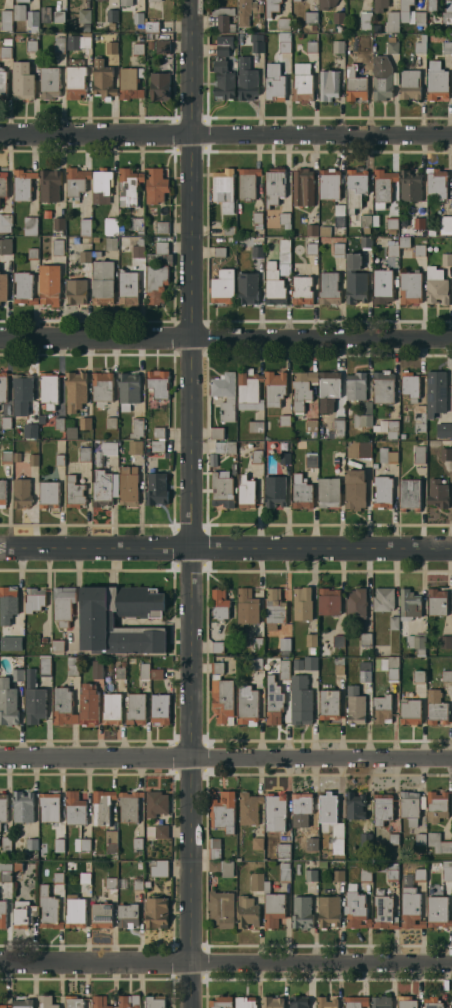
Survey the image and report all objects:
building: (153, 0)
building: (296, 0)
building: (125, 2)
building: (326, 3)
building: (379, 4)
building: (271, 6)
building: (432, 6)
building: (256, 7)
building: (19, 10)
building: (406, 11)
building: (243, 12)
building: (447, 12)
building: (46, 14)
building: (84, 15)
building: (111, 15)
building: (58, 16)
building: (138, 17)
building: (222, 17)
building: (311, 17)
building: (337, 17)
building: (419, 18)
building: (5, 19)
building: (32, 19)
building: (365, 21)
building: (391, 21)
building: (283, 23)
building: (151, 26)
building: (85, 27)
building: (294, 27)
building: (85, 40)
building: (6, 41)
building: (257, 42)
building: (284, 42)
building: (31, 45)
building: (58, 45)
building: (420, 45)
building: (162, 46)
building: (311, 46)
building: (337, 46)
building: (111, 47)
building: (365, 47)
building: (391, 47)
building: (447, 47)
building: (137, 49)
building: (5, 51)
building: (268, 55)
building: (224, 68)
building: (102, 79)
building: (247, 79)
building: (381, 80)
building: (22, 81)
building: (75, 81)
building: (437, 81)
building: (49, 82)
building: (129, 82)
building: (302, 83)
building: (354, 83)
building: (2, 84)
building: (276, 84)
building: (409, 84)
building: (328, 85)
building: (159, 86)
road: (225, 137)
building: (76, 181)
building: (437, 182)
building: (4, 183)
building: (249, 183)
building: (331, 183)
building: (24, 184)
building: (383, 184)
building: (50, 185)
building: (102, 185)
building: (130, 185)
building: (275, 185)
building: (411, 185)
building: (156, 186)
building: (305, 187)
building: (354, 188)
building: (225, 189)
building: (47, 214)
building: (340, 215)
building: (286, 219)
building: (5, 220)
building: (259, 220)
building: (365, 220)
building: (391, 222)
building: (58, 223)
building: (419, 223)
building: (446, 224)
building: (31, 226)
building: (111, 226)
building: (138, 226)
building: (86, 227)
building: (163, 228)
building: (229, 230)
building: (312, 230)
building: (325, 230)
building: (431, 232)
building: (366, 241)
building: (405, 241)
building: (111, 242)
building: (124, 244)
building: (312, 245)
building: (6, 246)
building: (58, 246)
building: (139, 248)
building: (393, 249)
building: (339, 250)
building: (419, 250)
building: (258, 251)
building: (221, 252)
building: (33, 254)
building: (96, 254)
building: (160, 254)
building: (85, 256)
building: (447, 259)
building: (279, 275)
building: (355, 279)
building: (103, 282)
building: (157, 283)
building: (50, 284)
building: (3, 286)
building: (383, 286)
building: (436, 286)
building: (410, 287)
building: (128, 288)
building: (249, 288)
building: (330, 288)
building: (24, 289)
building: (223, 290)
building: (76, 291)
building: (304, 291)
road: (225, 343)
building: (159, 383)
building: (331, 384)
building: (410, 385)
building: (276, 386)
building: (356, 386)
building: (3, 387)
building: (383, 387)
building: (103, 388)
building: (303, 389)
building: (49, 390)
building: (76, 390)
building: (129, 390)
building: (250, 390)
building: (436, 392)
building: (23, 393)
building: (226, 395)
building: (348, 411)
building: (364, 416)
building: (42, 419)
building: (285, 420)
building: (6, 422)
building: (419, 422)
building: (60, 423)
building: (86, 423)
building: (111, 423)
building: (256, 426)
building: (335, 426)
building: (312, 427)
building: (137, 428)
building: (387, 428)
building: (71, 430)
building: (444, 430)
building: (30, 431)
building: (159, 432)
building: (218, 433)
building: (367, 435)
building: (402, 435)
building: (302, 444)
building: (155, 446)
building: (136, 447)
building: (226, 447)
building: (110, 448)
building: (359, 449)
building: (85, 454)
building: (419, 454)
building: (446, 454)
building: (387, 455)
building: (257, 456)
building: (7, 457)
building: (18, 457)
building: (99, 458)
building: (285, 458)
building: (338, 458)
building: (34, 459)
building: (213, 459)
building: (312, 459)
building: (60, 460)
building: (375, 465)
building: (129, 486)
building: (222, 488)
building: (102, 489)
building: (156, 489)
building: (355, 489)
building: (276, 490)
building: (74, 492)
building: (247, 492)
building: (303, 492)
building: (330, 492)
building: (383, 492)
building: (3, 493)
building: (22, 493)
building: (438, 493)
building: (408, 494)
building: (49, 495)
road: (191, 504)
road: (226, 548)
building: (383, 598)
building: (34, 599)
building: (330, 601)
building: (437, 601)
building: (8, 603)
building: (303, 603)
building: (356, 603)
building: (409, 603)
building: (64, 604)
building: (221, 604)
building: (248, 606)
building: (275, 609)
building: (98, 622)
building: (393, 622)
building: (44, 639)
building: (365, 639)
building: (312, 640)
building: (339, 640)
building: (445, 640)
building: (11, 642)
building: (416, 642)
building: (58, 645)
building: (259, 645)
building: (286, 645)
building: (219, 646)
building: (324, 649)
building: (313, 650)
building: (311, 662)
building: (257, 664)
building: (299, 664)
building: (45, 665)
building: (73, 665)
building: (340, 665)
building: (219, 667)
building: (393, 667)
building: (97, 668)
building: (285, 669)
building: (120, 670)
building: (145, 670)
building: (364, 671)
building: (18, 672)
building: (157, 673)
building: (419, 676)
building: (446, 676)
building: (35, 699)
building: (224, 699)
building: (302, 700)
building: (275, 701)
building: (8, 703)
building: (330, 704)
building: (89, 705)
building: (248, 705)
building: (355, 705)
building: (64, 706)
building: (160, 707)
building: (436, 707)
building: (113, 708)
building: (137, 708)
building: (382, 709)
building: (410, 711)
road: (226, 757)
building: (156, 803)
building: (129, 805)
building: (355, 805)
building: (23, 806)
building: (50, 806)
building: (102, 806)
building: (301, 806)
building: (411, 806)
building: (436, 806)
building: (3, 807)
building: (249, 807)
building: (75, 808)
building: (382, 808)
building: (274, 811)
building: (223, 812)
building: (331, 821)
building: (157, 830)
building: (111, 837)
building: (393, 838)
building: (419, 838)
building: (364, 839)
building: (138, 842)
building: (257, 843)
building: (311, 843)
building: (439, 843)
building: (6, 844)
building: (82, 844)
building: (59, 845)
building: (215, 848)
building: (30, 849)
building: (283, 851)
building: (321, 854)
building: (323, 864)
building: (436, 864)
building: (215, 865)
building: (18, 866)
building: (159, 868)
building: (227, 869)
building: (387, 869)
building: (447, 871)
building: (5, 872)
building: (285, 872)
building: (365, 873)
building: (420, 874)
building: (310, 875)
building: (338, 875)
building: (59, 878)
building: (85, 880)
building: (111, 882)
building: (257, 882)
building: (138, 883)
building: (273, 907)
building: (356, 907)
building: (438, 907)
building: (49, 908)
building: (220, 909)
building: (75, 911)
building: (411, 911)
building: (156, 912)
building: (247, 912)
building: (302, 912)
building: (329, 912)
building: (3, 913)
building: (24, 913)
building: (384, 913)
building: (102, 915)
building: (127, 915)
road: (225, 962)
building: (74, 1001)
building: (132, 1001)
building: (154, 1001)
building: (299, 1001)
building: (381, 1001)
building: (406, 1001)
building: (47, 1002)
building: (101, 1002)
building: (222, 1002)
building: (246, 1002)
building: (273, 1002)
building: (355, 1002)
building: (432, 1002)
building: (24, 1003)
building: (327, 1003)
building: (451, 1003)
building: (3, 1005)

